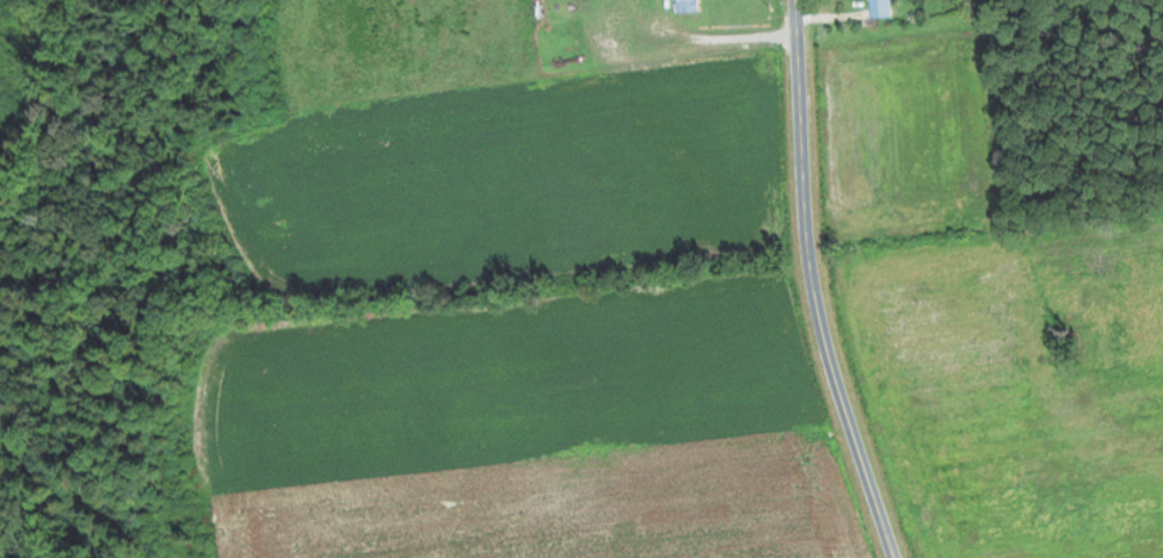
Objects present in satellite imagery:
building: (688, 1)
building: (879, 8)
road: (817, 284)

